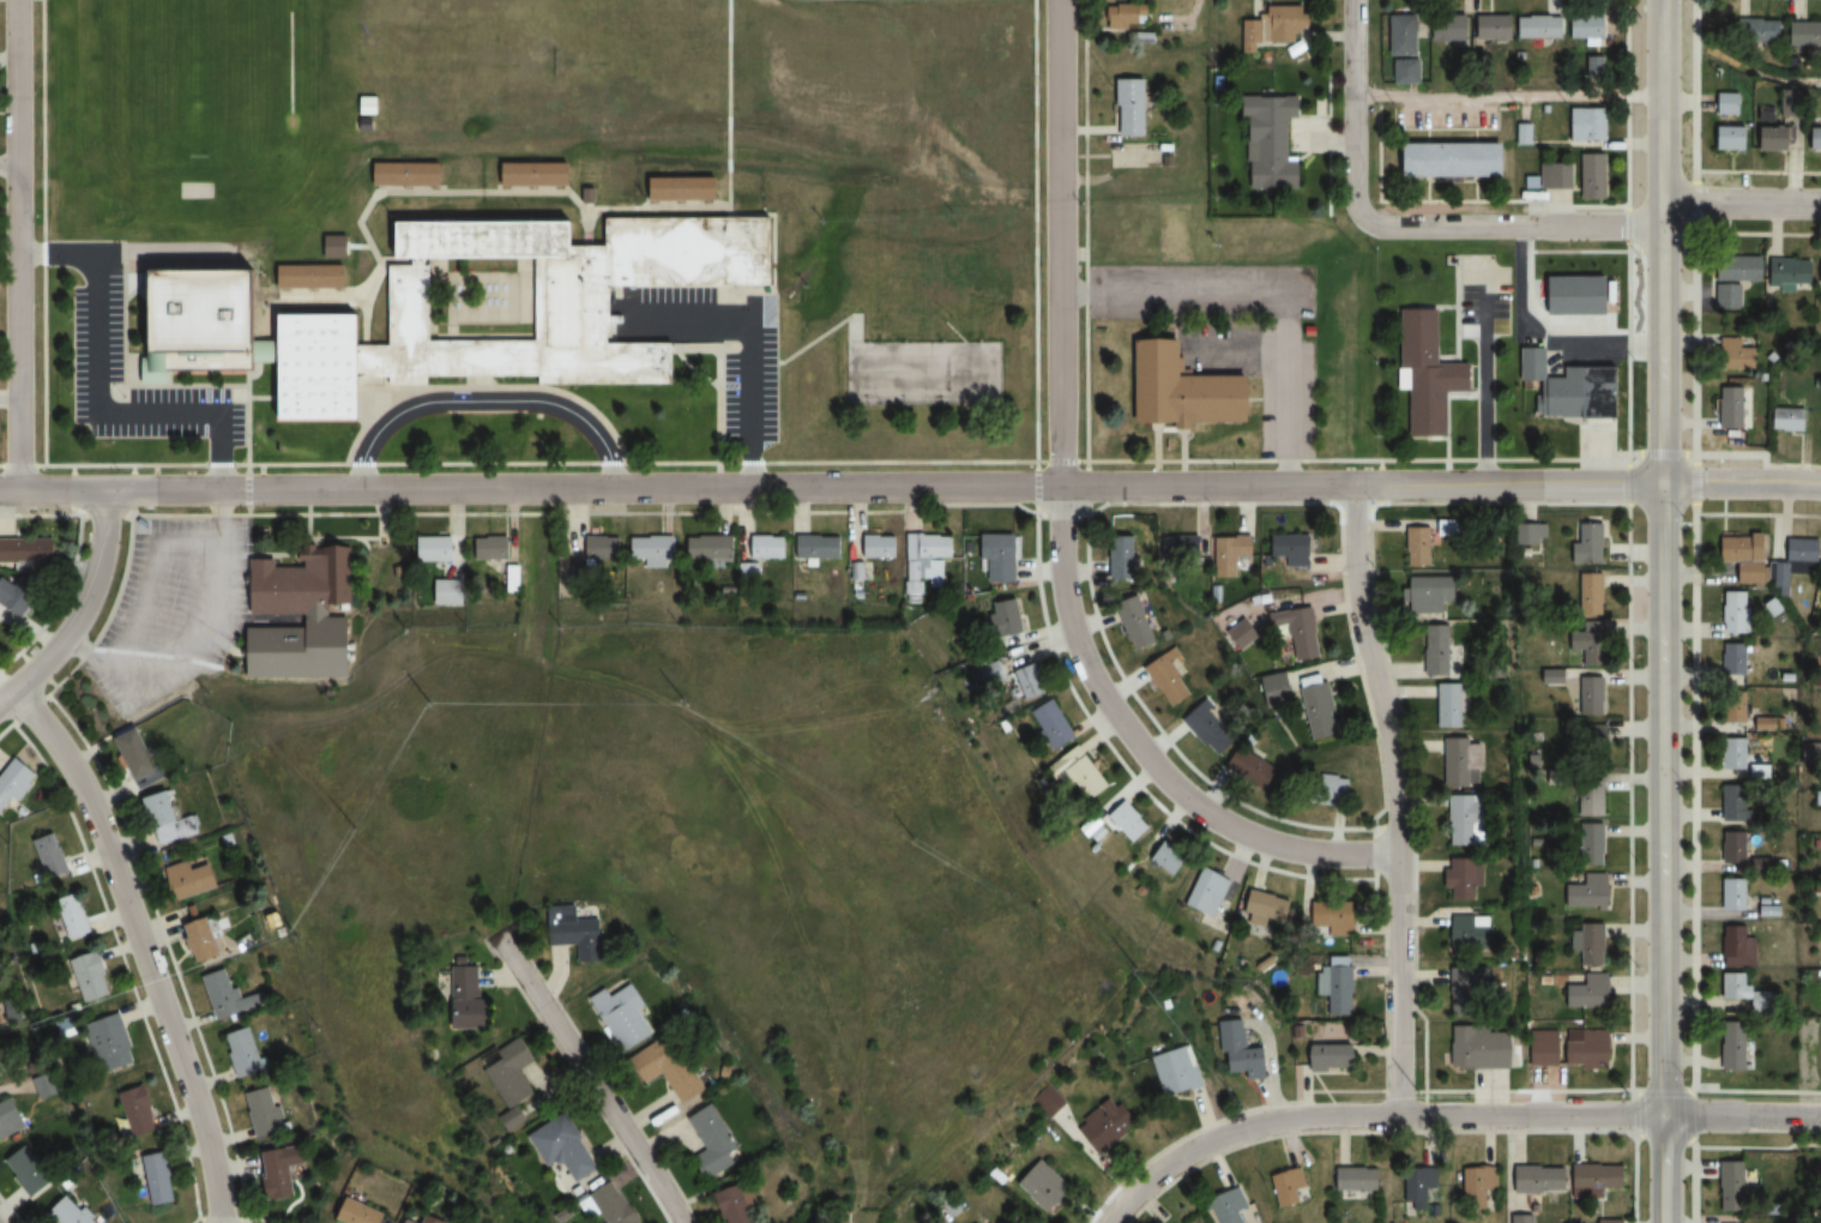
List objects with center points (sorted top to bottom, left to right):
building: (1134, 23)
building: (1265, 26)
building: (1442, 28)
building: (1533, 28)
building: (1582, 28)
building: (1485, 29)
building: (1753, 31)
building: (1801, 34)
building: (1394, 35)
road: (7, 55)
building: (1400, 72)
park: (201, 78)
building: (1723, 103)
building: (366, 104)
road: (728, 104)
building: (1134, 108)
road: (1355, 109)
building: (366, 123)
building: (1581, 125)
building: (1520, 134)
building: (1724, 138)
building: (1766, 138)
building: (1810, 139)
building: (1265, 140)
building: (1443, 159)
road: (7, 165)
building: (536, 175)
building: (408, 176)
building: (1552, 176)
building: (1588, 176)
road: (496, 192)
building: (683, 192)
building: (587, 194)
road: (1743, 204)
road: (1514, 227)
road: (43, 231)
road: (586, 233)
road: (16, 245)
building: (336, 245)
road: (360, 245)
road: (1037, 251)
road: (163, 252)
road: (55, 253)
road: (784, 255)
road: (201, 265)
building: (1732, 269)
building: (1785, 271)
building: (1817, 272)
building: (312, 276)
road: (125, 282)
parking lot: (1199, 289)
road: (340, 294)
building: (550, 294)
road: (288, 295)
road: (314, 295)
building: (1724, 297)
road: (302, 300)
building: (201, 318)
road: (363, 318)
road: (145, 326)
road: (749, 331)
road: (825, 335)
parking lot: (100, 341)
road: (722, 347)
building: (272, 353)
building: (1730, 355)
building: (1532, 362)
building: (318, 366)
parking lot: (1262, 372)
road: (252, 374)
park: (922, 374)
building: (1422, 374)
road: (471, 381)
road: (487, 381)
road: (231, 386)
road: (398, 387)
road: (483, 387)
road: (719, 387)
building: (1182, 390)
building: (1820, 391)
road: (263, 397)
parking lot: (750, 397)
road: (7, 399)
road: (368, 399)
road: (483, 402)
building: (1567, 405)
building: (1726, 408)
road: (96, 414)
building: (1781, 420)
building: (1819, 424)
road: (7, 464)
road: (549, 464)
road: (627, 466)
road: (134, 469)
road: (157, 469)
road: (223, 469)
road: (749, 471)
road: (1743, 484)
road: (1093, 486)
road: (249, 489)
road: (260, 489)
road: (1060, 530)
building: (1527, 535)
building: (1582, 544)
building: (880, 546)
building: (767, 547)
building: (1183, 547)
building: (1235, 547)
building: (1413, 547)
building: (492, 548)
building: (710, 548)
building: (819, 548)
building: (434, 549)
building: (602, 549)
building: (652, 549)
building: (1292, 549)
building: (1006, 552)
building: (29, 553)
building: (927, 556)
road: (1664, 556)
building: (1123, 558)
building: (1736, 559)
building: (1795, 559)
building: (1820, 572)
building: (509, 578)
building: (445, 589)
building: (1425, 591)
building: (1586, 594)
building: (16, 600)
road: (77, 607)
parking lot: (170, 609)
building: (1732, 611)
building: (300, 613)
building: (1007, 617)
building: (1139, 625)
building: (1241, 633)
building: (1304, 634)
building: (1586, 643)
building: (1431, 650)
building: (1731, 658)
building: (1165, 669)
building: (988, 675)
building: (1549, 677)
building: (1032, 681)
building: (1277, 688)
building: (1587, 697)
building: (1445, 705)
building: (1730, 706)
building: (1320, 711)
road: (535, 713)
building: (1051, 725)
building: (1210, 728)
building: (1588, 742)
building: (1729, 753)
building: (138, 755)
building: (1458, 761)
building: (1254, 769)
building: (1755, 772)
building: (1084, 781)
building: (13, 783)
building: (1334, 789)
road: (1398, 797)
building: (1586, 800)
building: (1731, 803)
building: (167, 819)
building: (1460, 820)
building: (1127, 823)
road: (339, 827)
building: (1819, 843)
building: (1586, 845)
building: (1730, 849)
building: (49, 856)
building: (1168, 857)
building: (189, 880)
building: (1457, 880)
building: (1207, 891)
building: (1582, 892)
building: (1731, 896)
building: (1267, 909)
building: (73, 916)
building: (1333, 917)
building: (580, 932)
building: (1465, 932)
building: (203, 940)
building: (1586, 944)
road: (140, 946)
building: (1731, 947)
building: (91, 975)
building: (1465, 982)
building: (1334, 984)
building: (1731, 987)
building: (1584, 993)
building: (227, 995)
building: (474, 998)
building: (626, 1014)
building: (111, 1041)
building: (1727, 1047)
building: (1472, 1048)
building: (1581, 1049)
building: (243, 1052)
building: (1244, 1054)
building: (2, 1055)
building: (1334, 1058)
building: (679, 1067)
building: (1180, 1071)
building: (515, 1072)
road: (592, 1080)
building: (1049, 1101)
building: (140, 1110)
building: (264, 1111)
road: (1367, 1113)
road: (1742, 1115)
building: (10, 1117)
building: (1109, 1125)
building: (717, 1140)
building: (567, 1145)
building: (26, 1167)
road: (1663, 1168)
building: (283, 1169)
building: (1599, 1176)
building: (159, 1177)
building: (1542, 1179)
building: (1733, 1185)
building: (1044, 1186)
building: (1289, 1187)
building: (1421, 1187)
building: (1482, 1187)
building: (743, 1203)
building: (611, 1205)
building: (1230, 1206)
building: (68, 1211)
building: (360, 1212)
building: (411, 1221)

